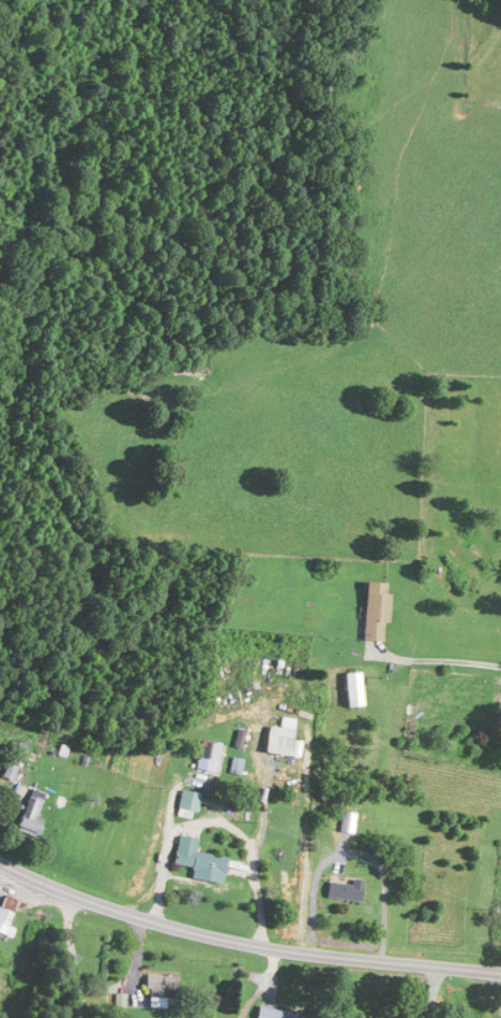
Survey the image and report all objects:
building: (378, 611)
road: (441, 664)
building: (356, 689)
building: (280, 741)
building: (208, 756)
building: (237, 765)
building: (190, 801)
building: (34, 814)
road: (219, 824)
road: (355, 851)
building: (201, 861)
building: (346, 891)
building: (6, 922)
road: (243, 945)
road: (138, 962)
road: (73, 969)
road: (263, 985)
building: (162, 988)
road: (432, 992)
building: (277, 1013)

